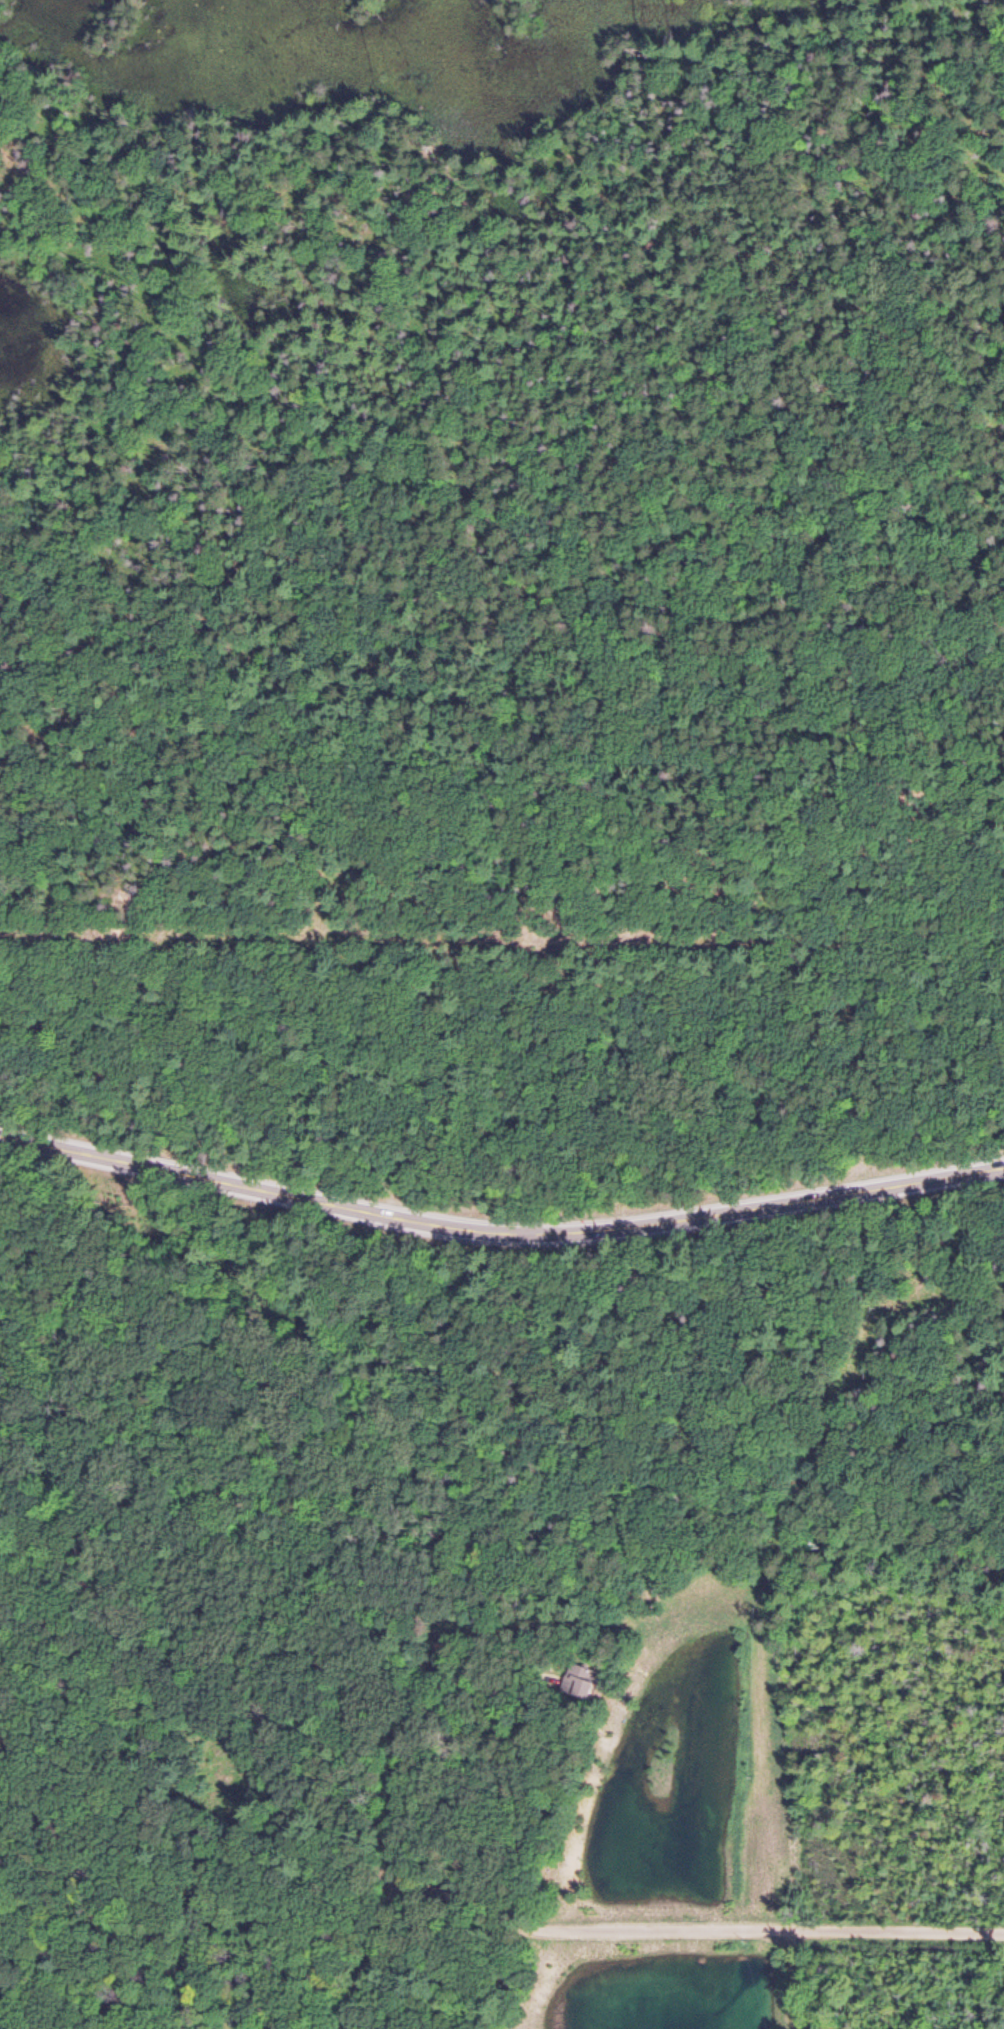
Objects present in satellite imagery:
road: (516, 584)
road: (499, 1234)
building: (580, 1686)
road: (401, 1900)
road: (773, 1931)
road: (365, 1962)

